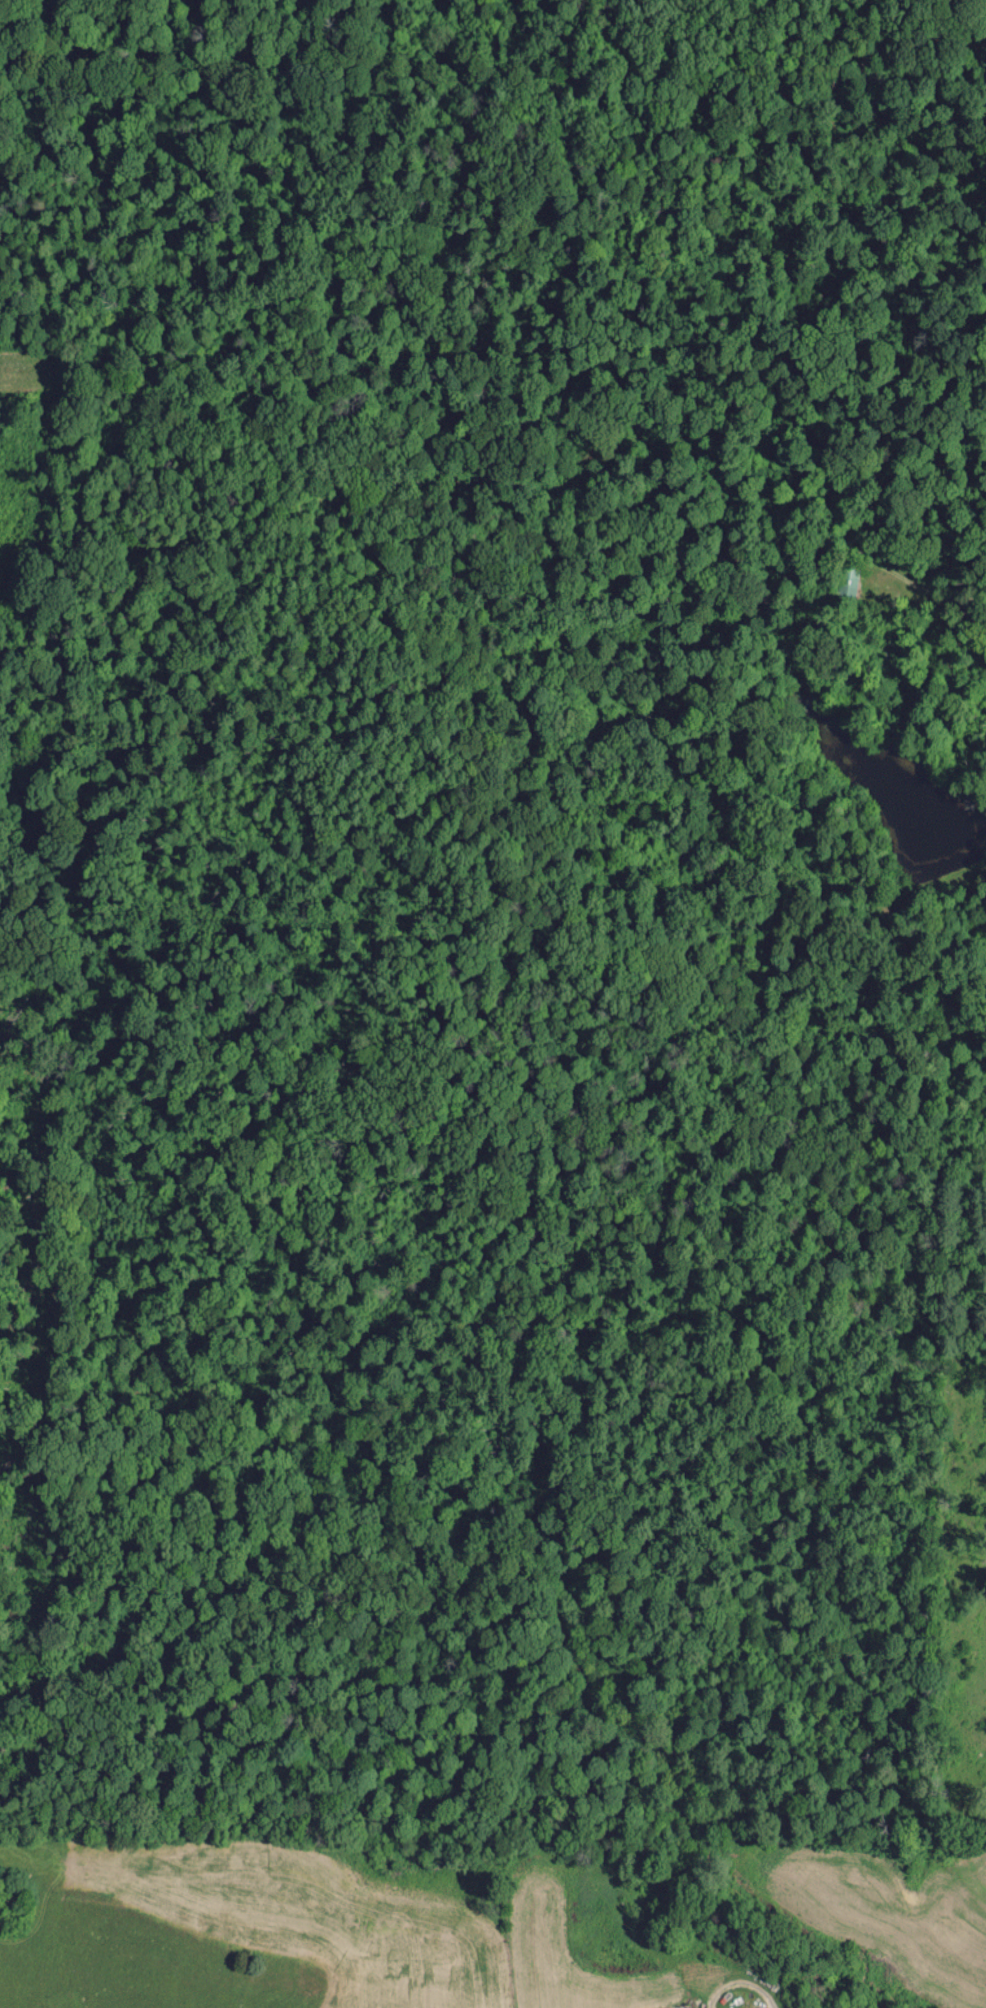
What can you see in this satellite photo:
building: (847, 582)
building: (760, 2007)

